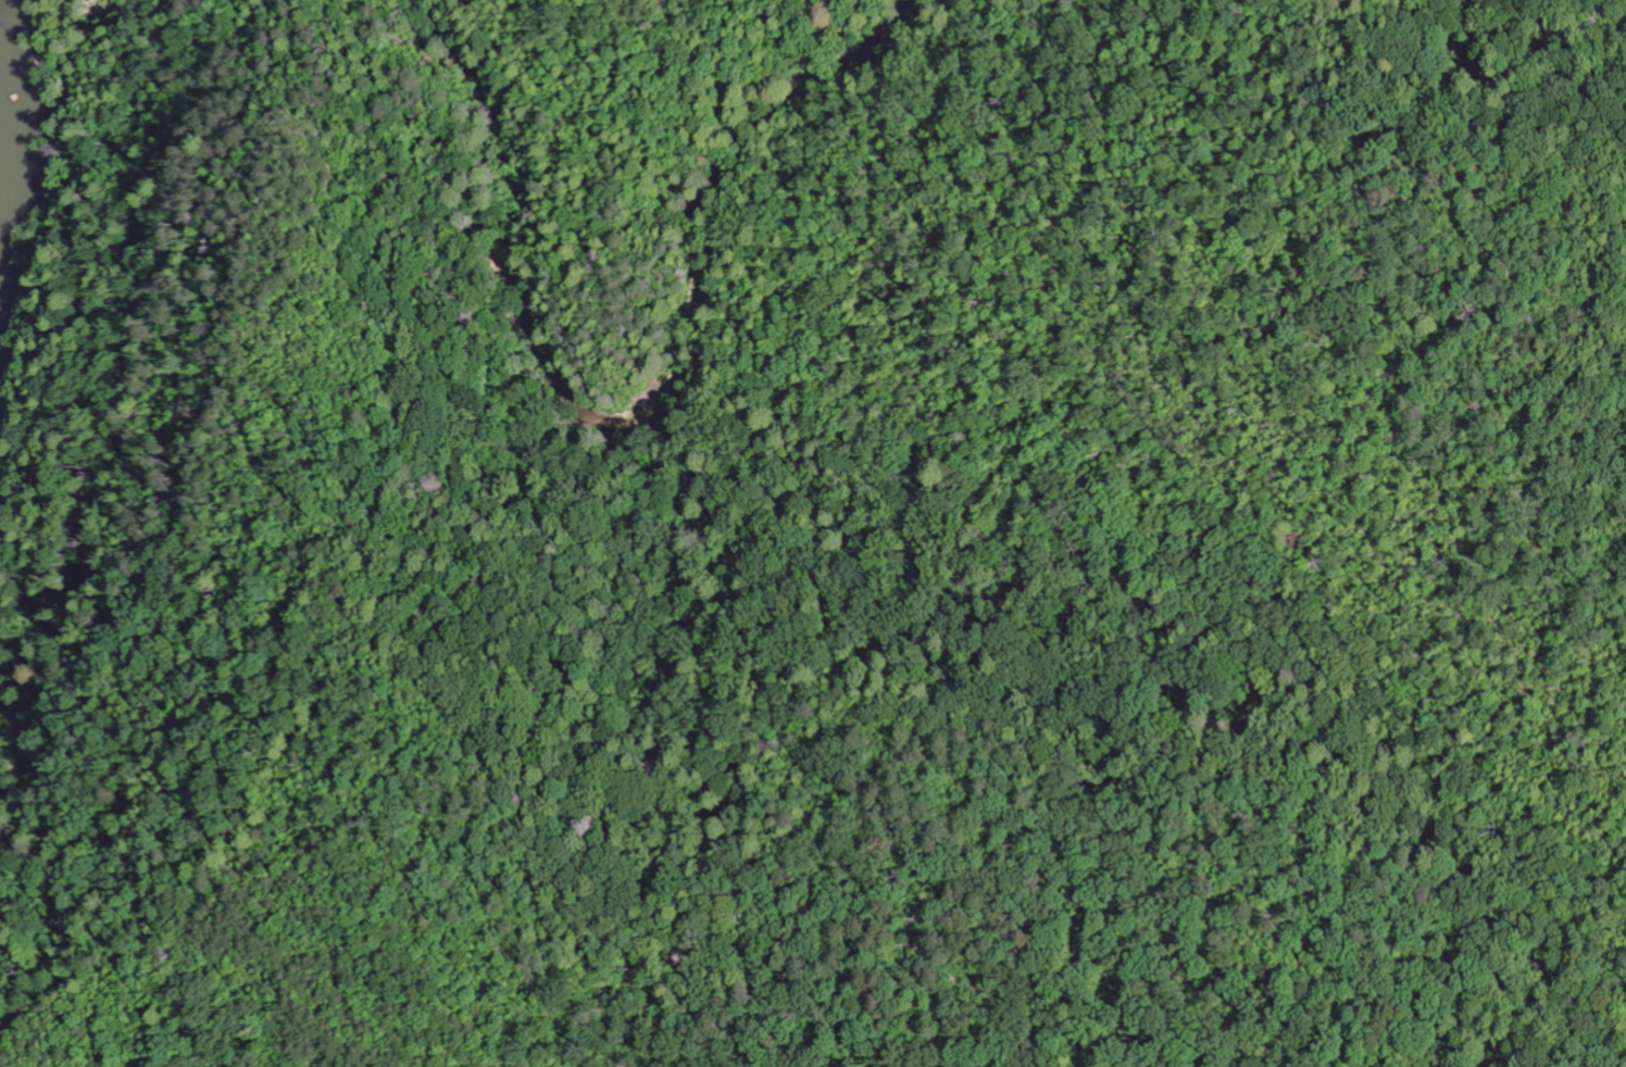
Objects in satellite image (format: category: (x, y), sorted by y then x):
road: (50, 341)
road: (661, 454)

